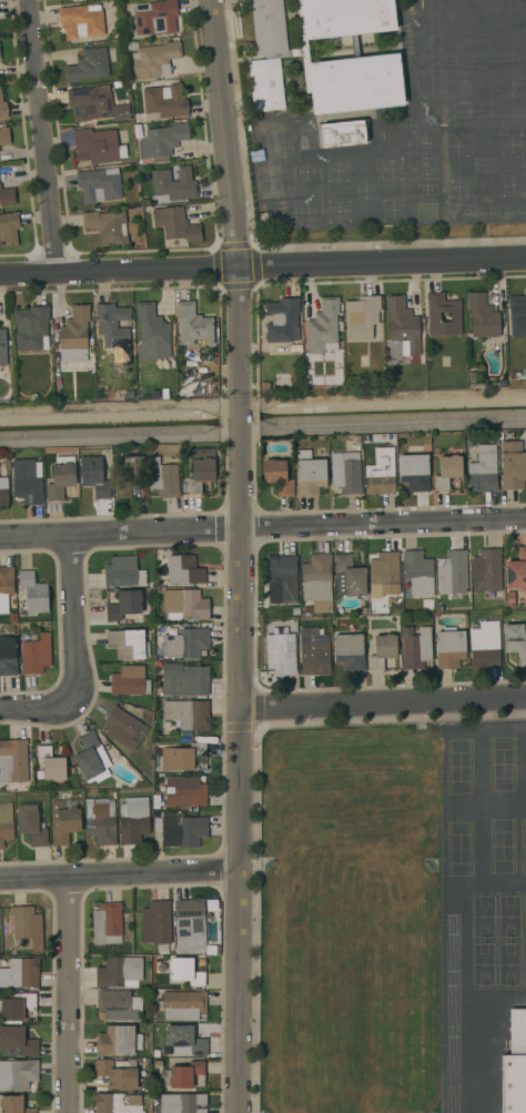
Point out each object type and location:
building: (155, 17)
building: (81, 21)
building: (373, 59)
building: (152, 60)
building: (88, 65)
building: (165, 101)
building: (90, 103)
building: (2, 108)
building: (121, 112)
building: (342, 133)
road: (44, 135)
building: (4, 136)
building: (161, 141)
building: (302, 143)
building: (95, 145)
building: (99, 184)
building: (174, 184)
building: (7, 196)
road: (233, 196)
building: (175, 224)
building: (107, 226)
building: (9, 227)
road: (263, 267)
building: (517, 314)
building: (362, 316)
building: (433, 316)
building: (482, 316)
building: (282, 320)
building: (193, 324)
building: (403, 324)
building: (113, 327)
building: (323, 327)
building: (31, 328)
building: (152, 334)
building: (74, 335)
building: (2, 347)
building: (283, 364)
road: (242, 421)
building: (513, 465)
building: (201, 469)
building: (414, 469)
building: (483, 471)
building: (447, 472)
building: (346, 473)
building: (381, 473)
building: (310, 474)
building: (94, 477)
building: (130, 477)
building: (277, 477)
building: (163, 478)
building: (60, 480)
building: (28, 482)
building: (3, 487)
road: (263, 532)
building: (183, 570)
building: (383, 570)
building: (486, 570)
building: (516, 571)
building: (123, 573)
building: (453, 573)
building: (416, 575)
building: (348, 577)
building: (282, 579)
building: (317, 583)
building: (6, 587)
building: (33, 593)
building: (123, 605)
building: (185, 605)
building: (307, 610)
building: (295, 611)
road: (77, 625)
building: (515, 641)
building: (184, 642)
building: (128, 644)
building: (484, 646)
building: (416, 648)
building: (449, 648)
building: (280, 650)
building: (382, 650)
building: (314, 651)
building: (350, 652)
building: (36, 655)
building: (8, 657)
building: (184, 679)
building: (129, 681)
road: (383, 705)
building: (186, 714)
road: (34, 715)
building: (121, 727)
building: (90, 757)
building: (181, 757)
building: (13, 760)
building: (51, 765)
road: (241, 779)
building: (185, 791)
building: (62, 820)
building: (100, 820)
building: (133, 820)
building: (6, 822)
building: (31, 824)
building: (183, 831)
road: (120, 872)
park: (347, 919)
building: (155, 923)
building: (107, 924)
building: (191, 927)
building: (26, 930)
building: (185, 971)
building: (19, 972)
building: (119, 972)
road: (67, 993)
building: (16, 1005)
building: (117, 1005)
building: (182, 1005)
building: (117, 1040)
building: (184, 1041)
building: (17, 1042)
building: (156, 1053)
building: (158, 1063)
building: (515, 1065)
building: (118, 1073)
building: (18, 1074)
building: (181, 1074)
building: (118, 1103)
building: (182, 1103)
building: (13, 1105)

